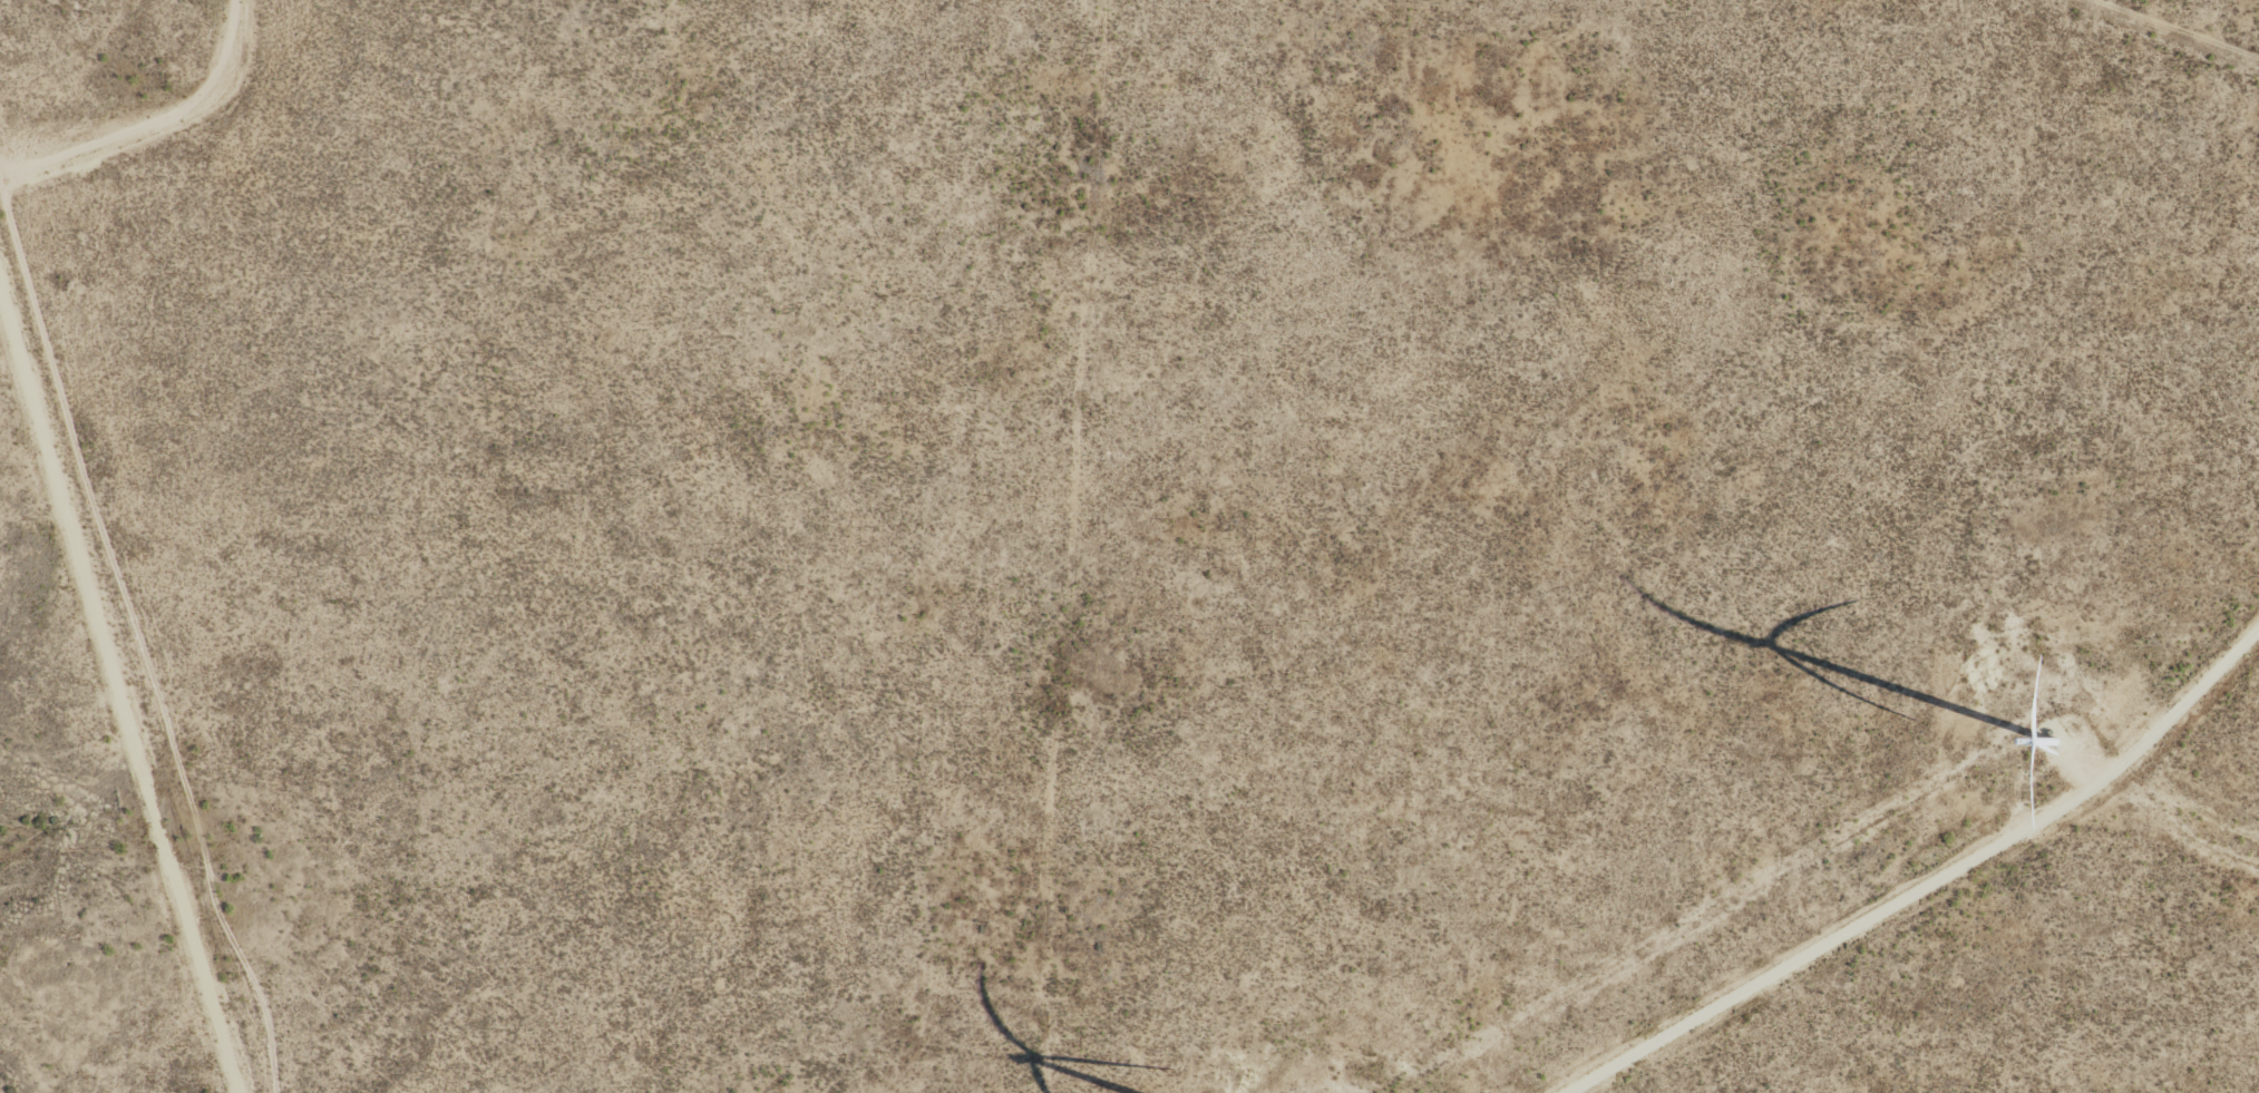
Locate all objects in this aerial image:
road: (148, 580)
wind turbine: (2051, 736)

